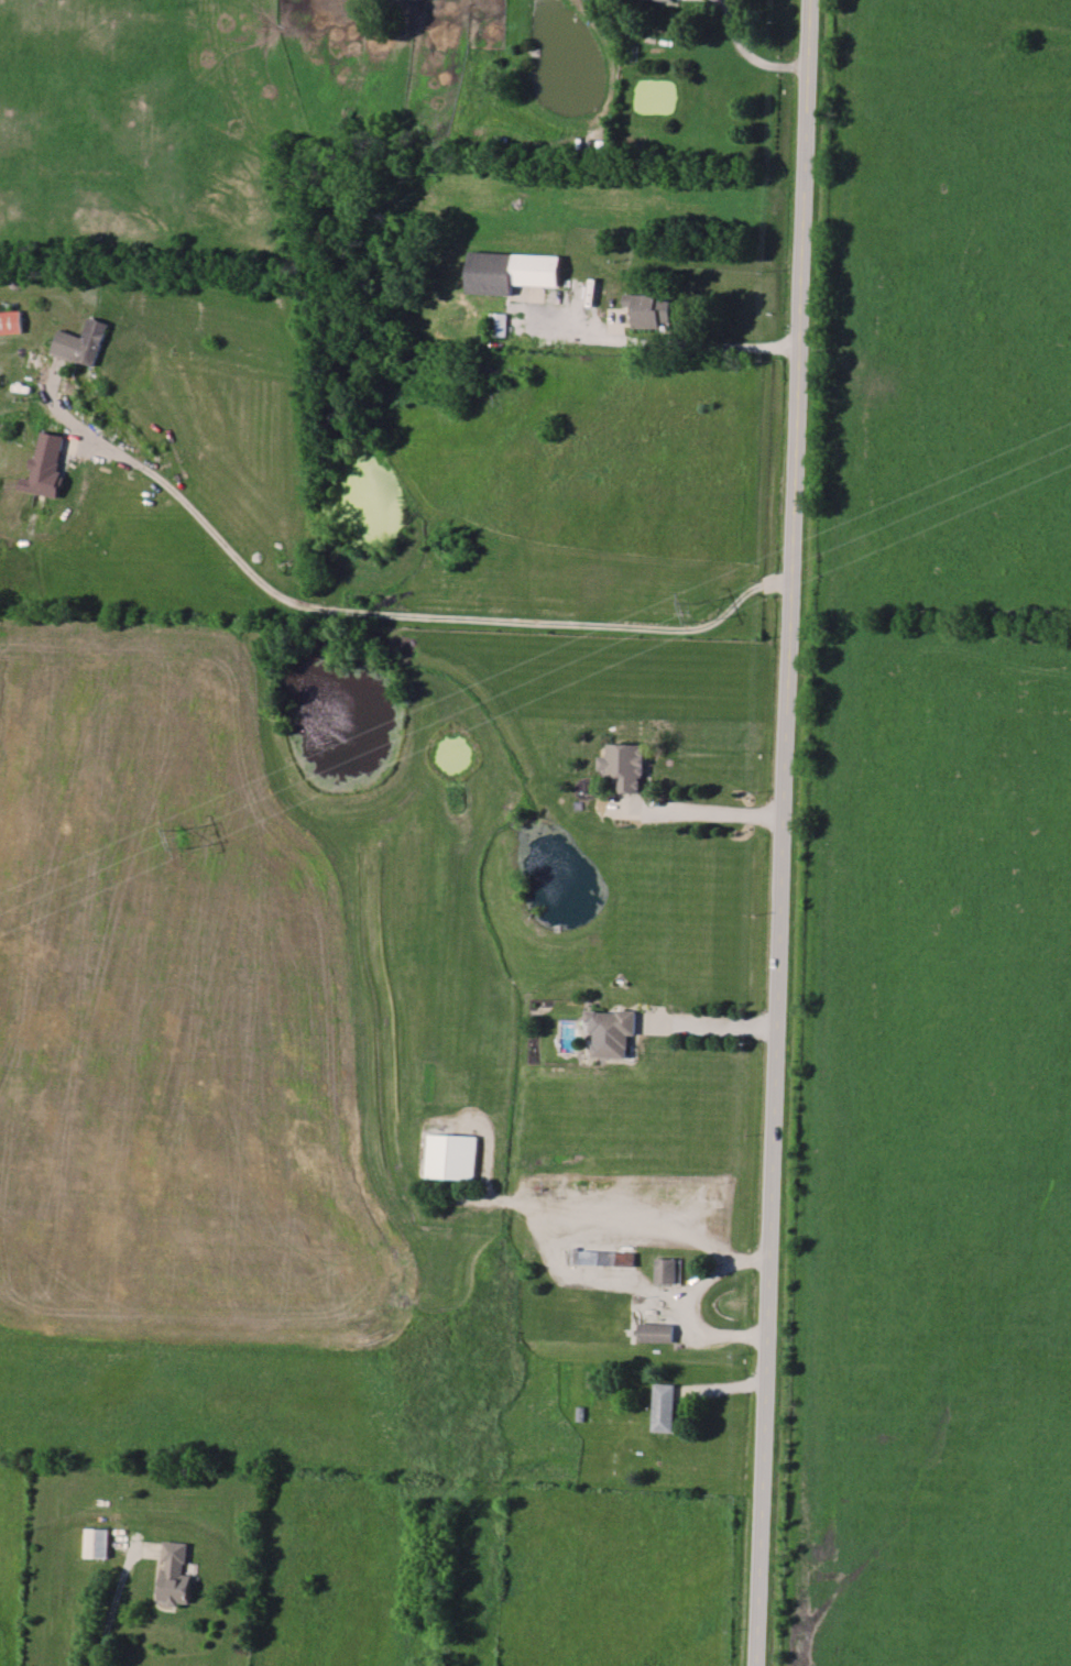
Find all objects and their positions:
building: (674, 0)
road: (751, 54)
building: (511, 272)
building: (649, 310)
building: (10, 322)
building: (498, 324)
building: (81, 342)
road: (658, 343)
building: (45, 467)
power tower: (696, 609)
road: (416, 610)
building: (624, 766)
road: (706, 811)
road: (783, 832)
power tower: (179, 840)
road: (711, 1020)
building: (611, 1031)
building: (452, 1155)
building: (608, 1258)
building: (667, 1270)
road: (687, 1302)
building: (657, 1331)
building: (664, 1406)
building: (98, 1542)
building: (175, 1574)
road: (109, 1610)

